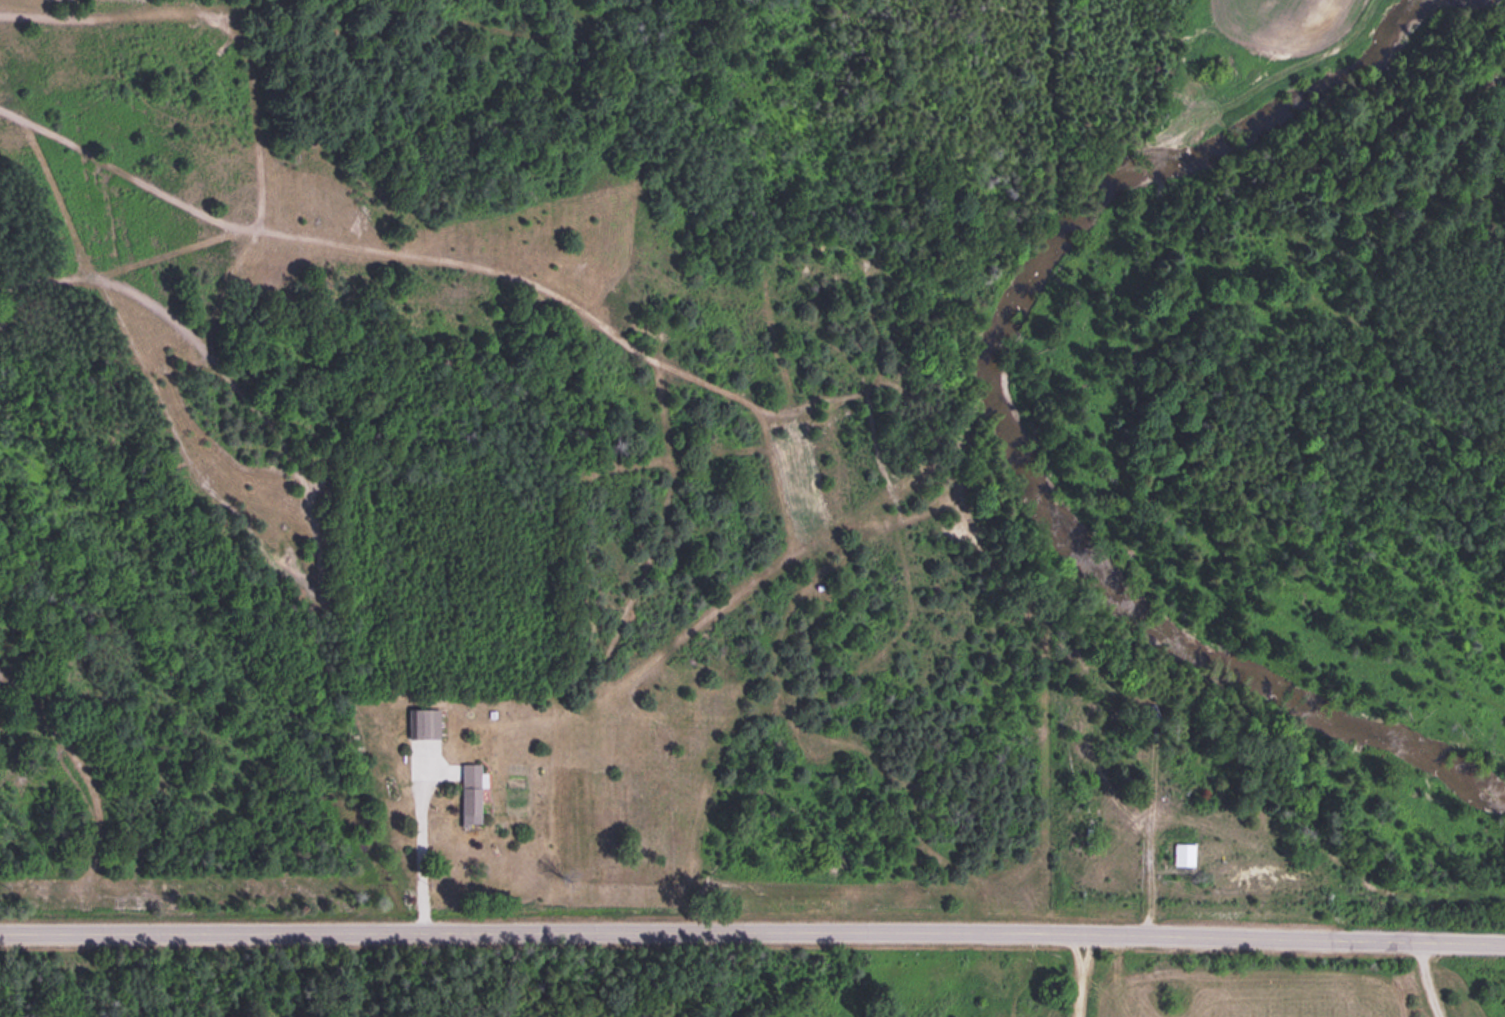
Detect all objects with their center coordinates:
river: (1037, 396)
building: (421, 721)
building: (466, 785)
building: (1181, 852)
road: (752, 932)

